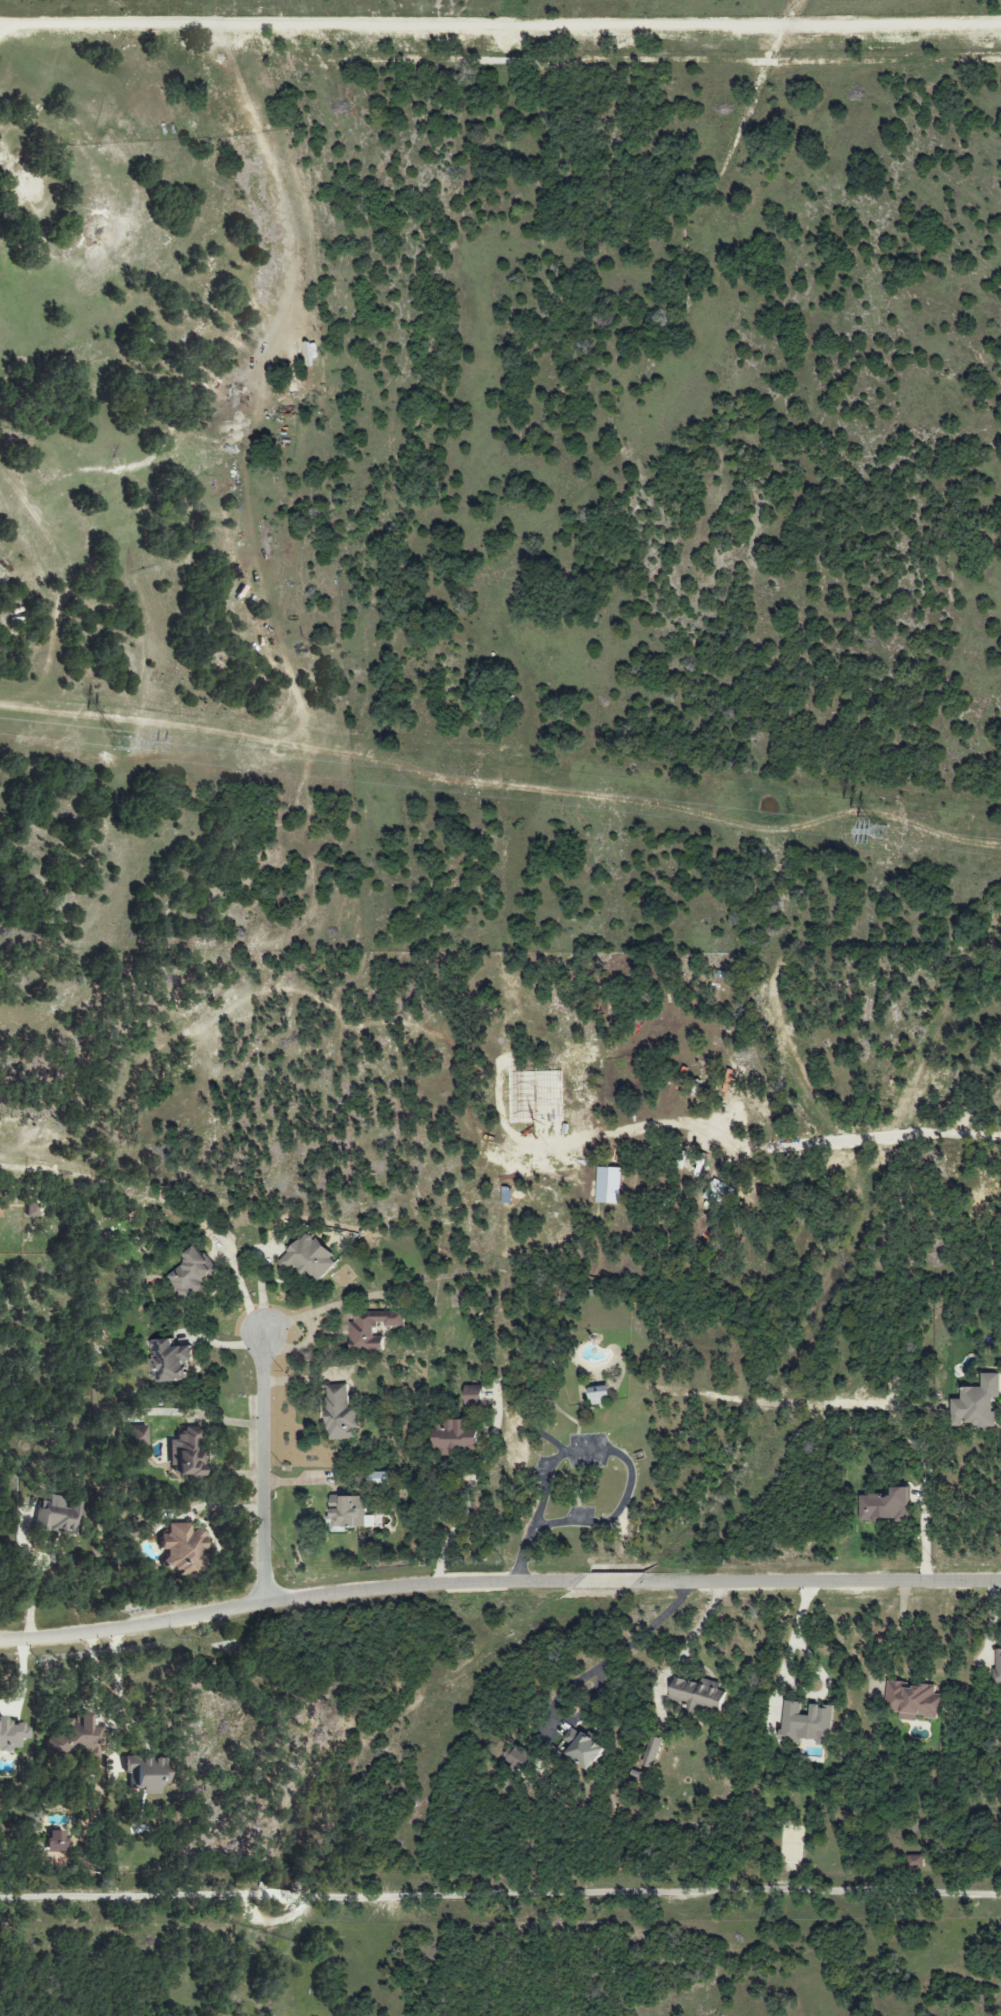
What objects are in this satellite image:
road: (500, 24)
road: (5, 29)
power tower: (120, 749)
power tower: (876, 834)
road: (802, 1144)
building: (718, 1192)
building: (31, 1210)
building: (309, 1258)
building: (191, 1273)
road: (243, 1290)
road: (318, 1306)
building: (371, 1329)
road: (223, 1343)
road: (301, 1346)
building: (169, 1361)
building: (473, 1390)
building: (599, 1395)
building: (474, 1400)
building: (976, 1403)
building: (340, 1413)
building: (454, 1437)
building: (186, 1453)
road: (623, 1459)
road: (265, 1467)
building: (377, 1478)
road: (461, 1505)
building: (886, 1506)
building: (349, 1515)
building: (59, 1516)
building: (181, 1548)
road: (521, 1555)
road: (35, 1575)
road: (498, 1583)
road: (698, 1625)
road: (646, 1630)
road: (985, 1633)
road: (891, 1634)
building: (997, 1667)
road: (91, 1680)
road: (790, 1681)
building: (698, 1694)
building: (912, 1700)
road: (119, 1701)
building: (806, 1723)
building: (10, 1735)
building: (75, 1737)
building: (583, 1748)
building: (652, 1752)
building: (519, 1759)
building: (146, 1774)
building: (55, 1841)
road: (500, 1896)

